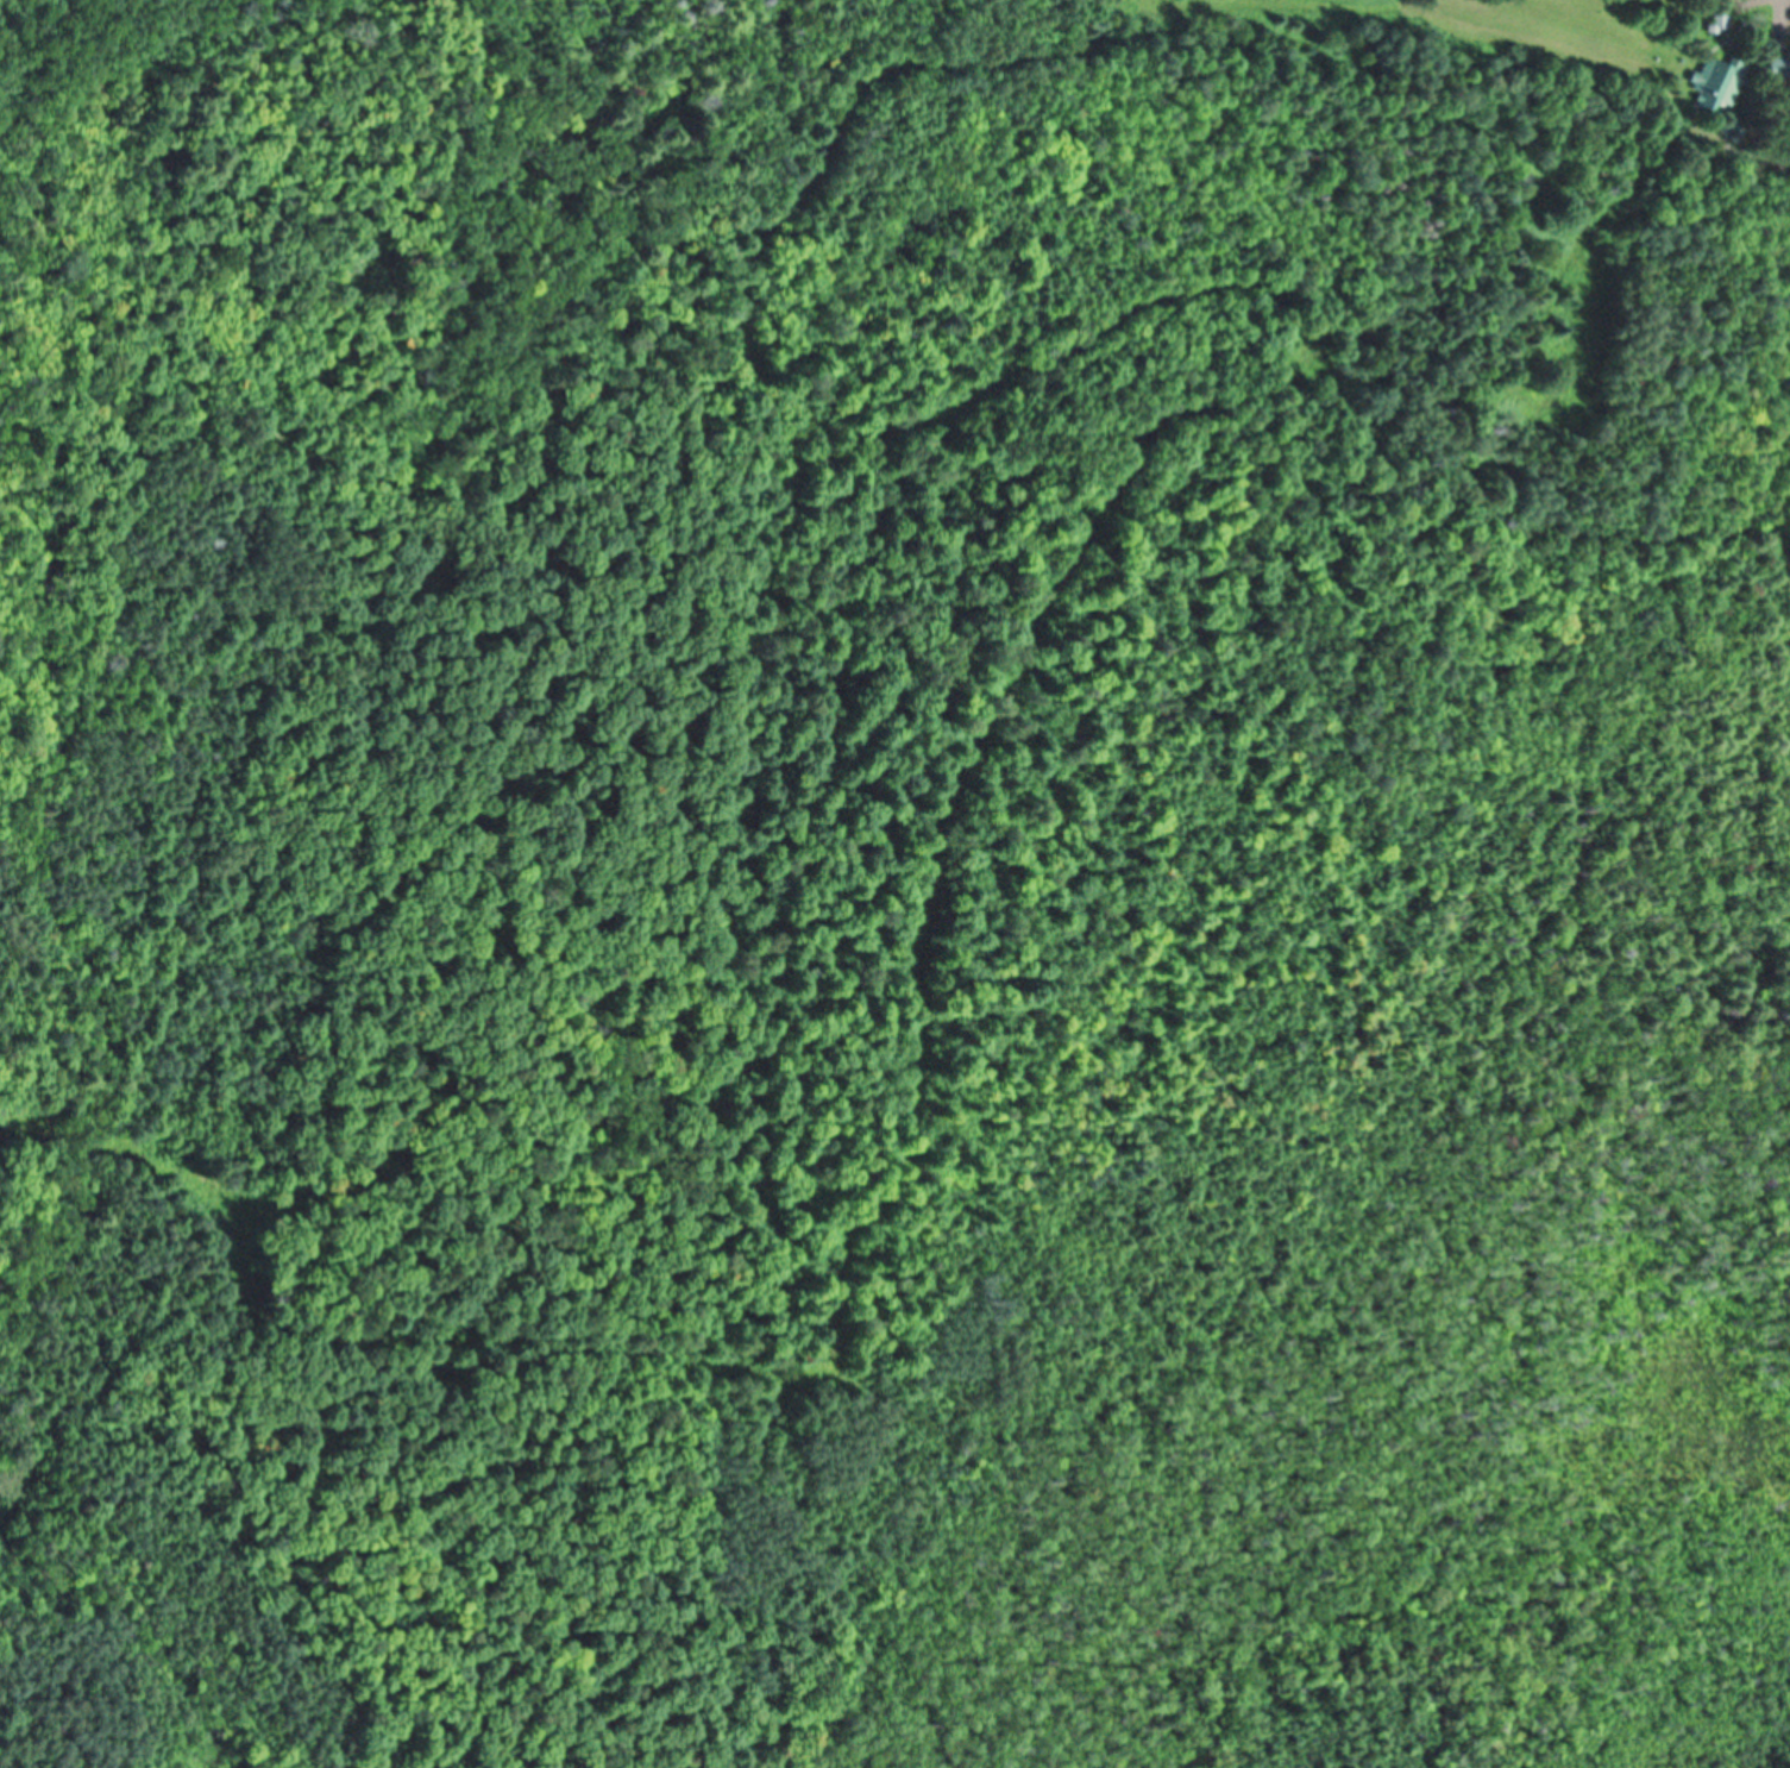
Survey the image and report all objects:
building: (1778, 71)
building: (1715, 87)

